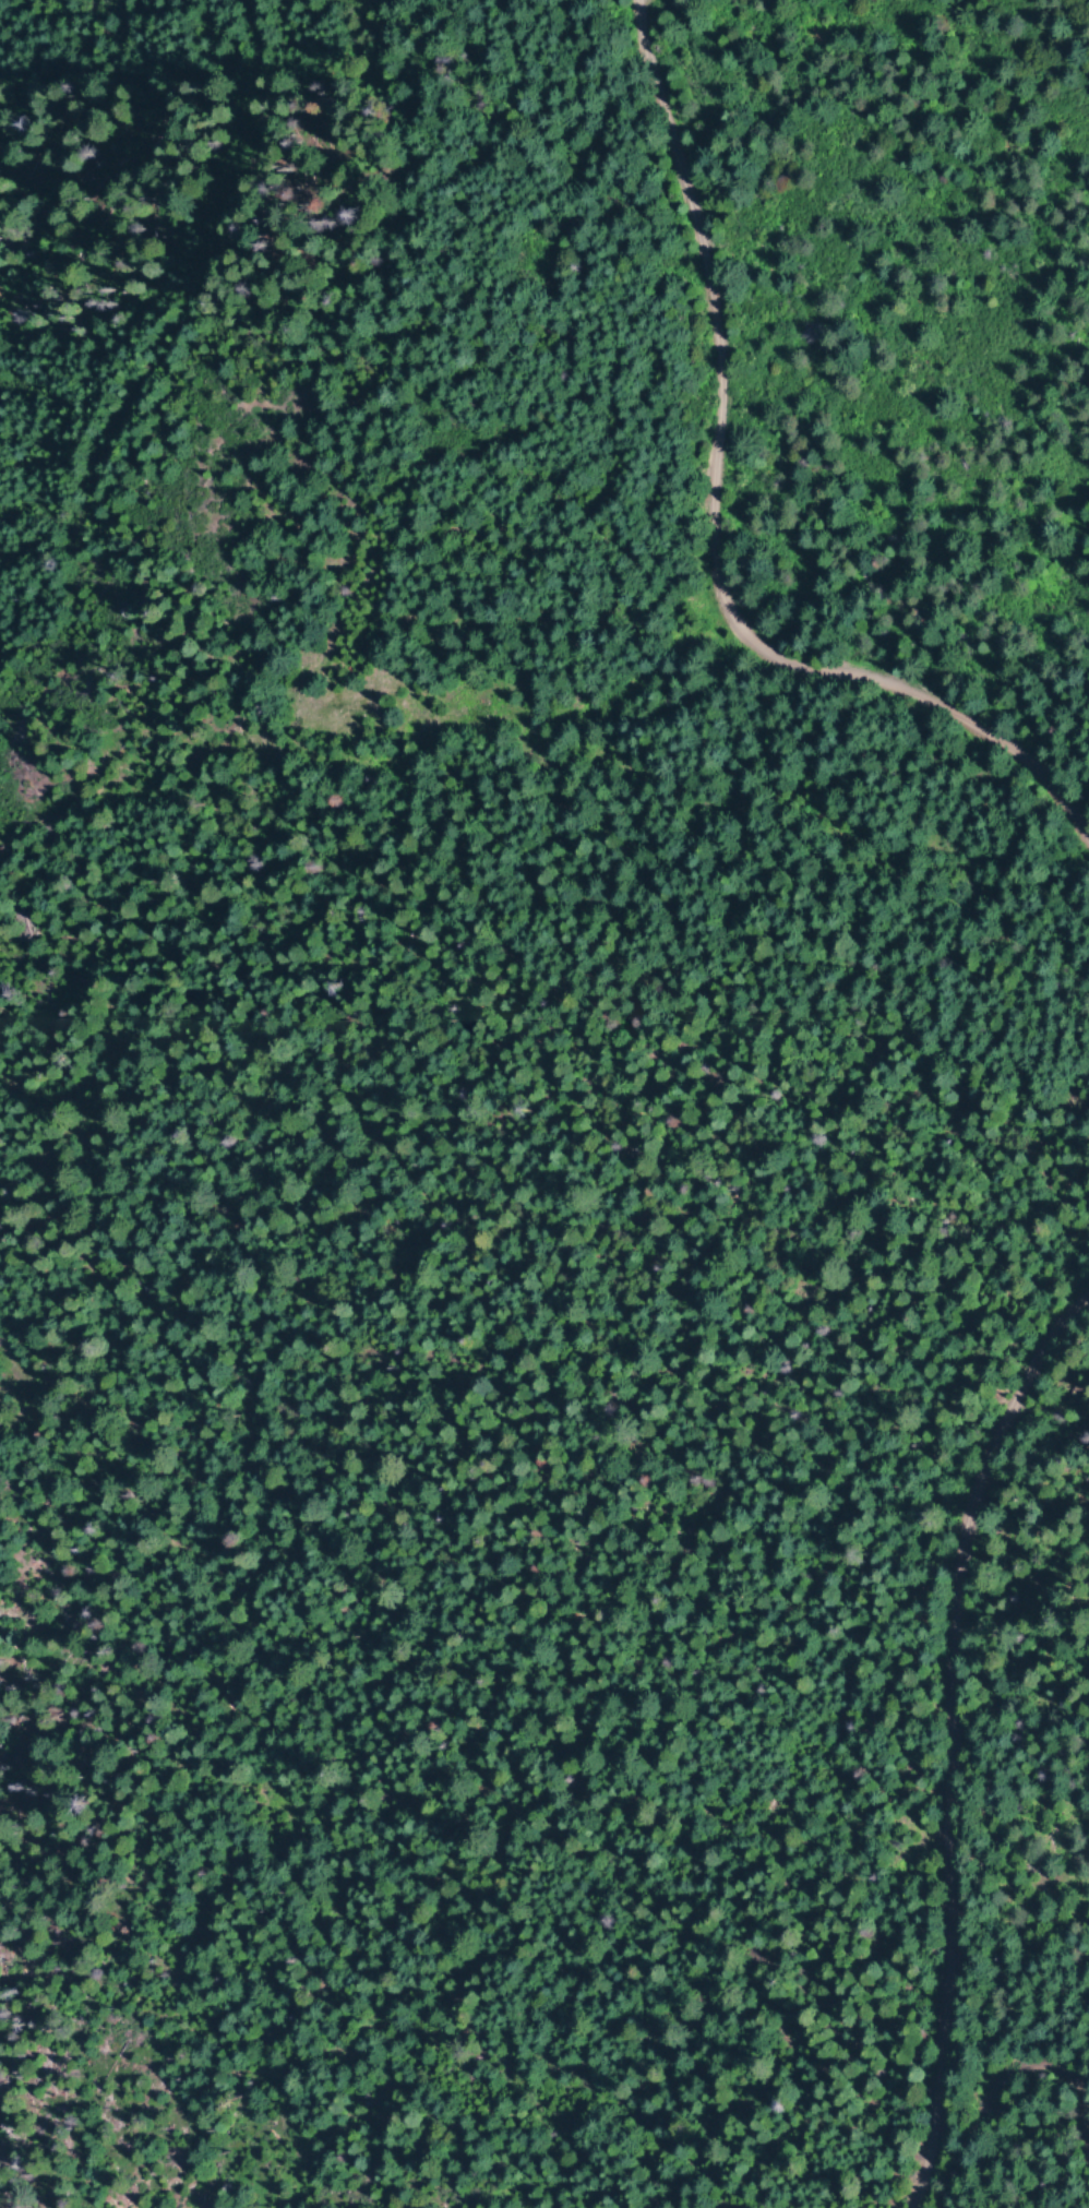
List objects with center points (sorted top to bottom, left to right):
road: (637, 0)
road: (239, 178)
road: (709, 527)
road: (955, 1729)
road: (993, 2080)

